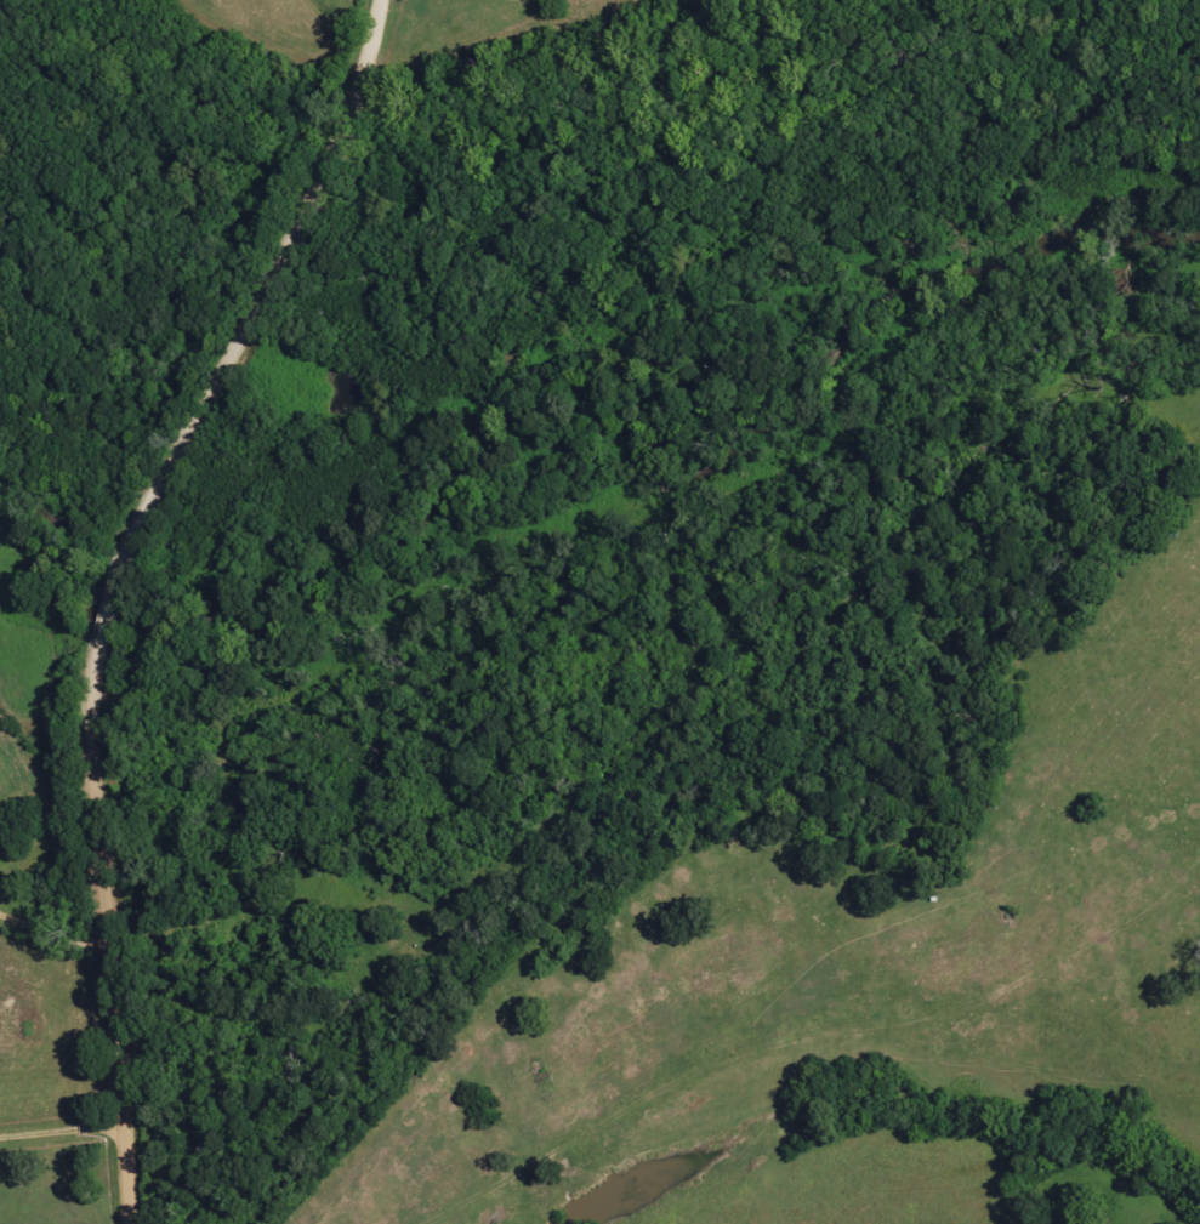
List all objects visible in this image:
road: (112, 582)

